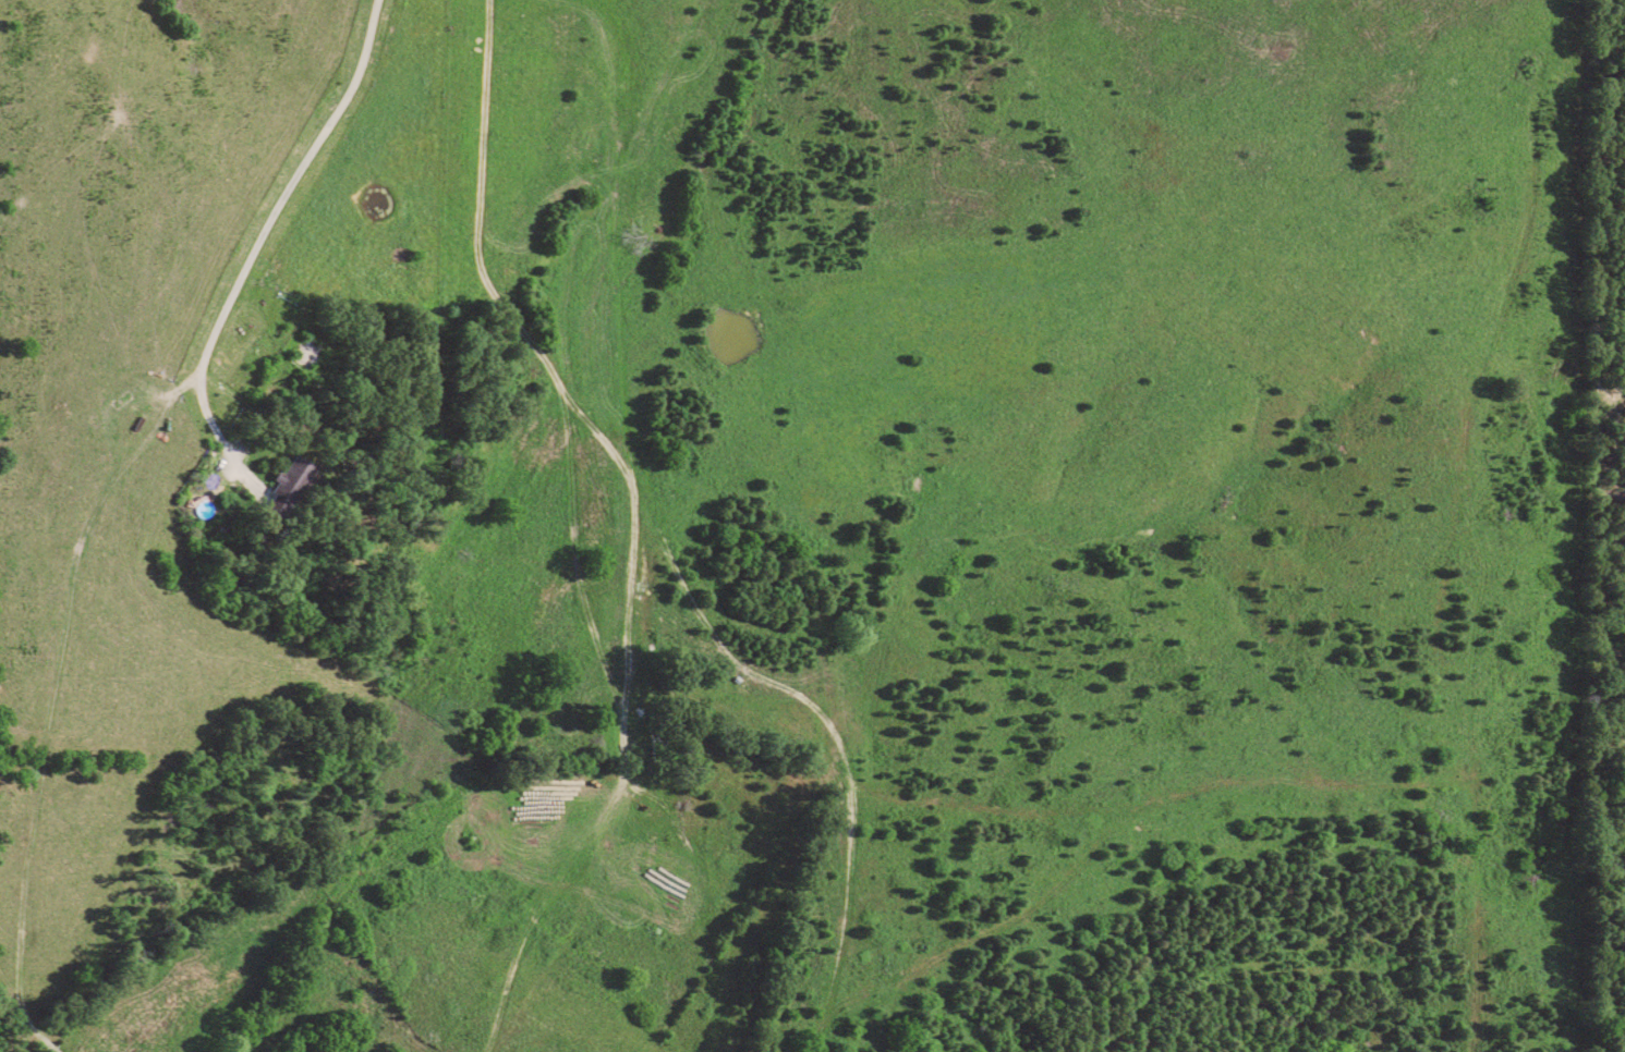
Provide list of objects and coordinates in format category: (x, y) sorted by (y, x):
road: (253, 246)
road: (633, 515)

